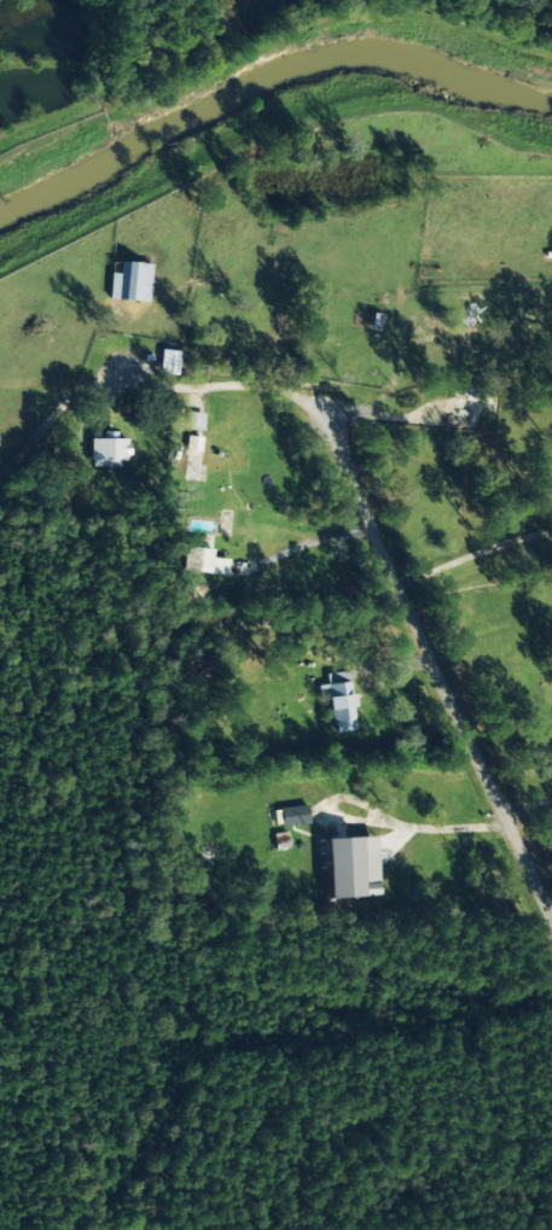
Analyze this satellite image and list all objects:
building: (129, 282)
building: (168, 362)
road: (210, 383)
building: (475, 394)
building: (194, 421)
building: (108, 450)
road: (473, 552)
building: (196, 560)
road: (434, 661)
building: (338, 701)
road: (527, 805)
building: (292, 816)
building: (350, 868)

